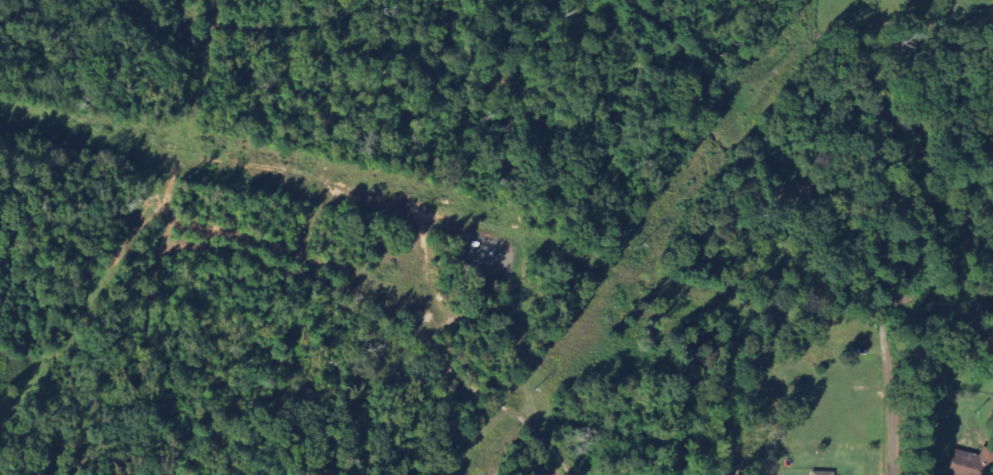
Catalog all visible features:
road: (301, 173)
road: (946, 294)
road: (899, 385)
building: (820, 473)

